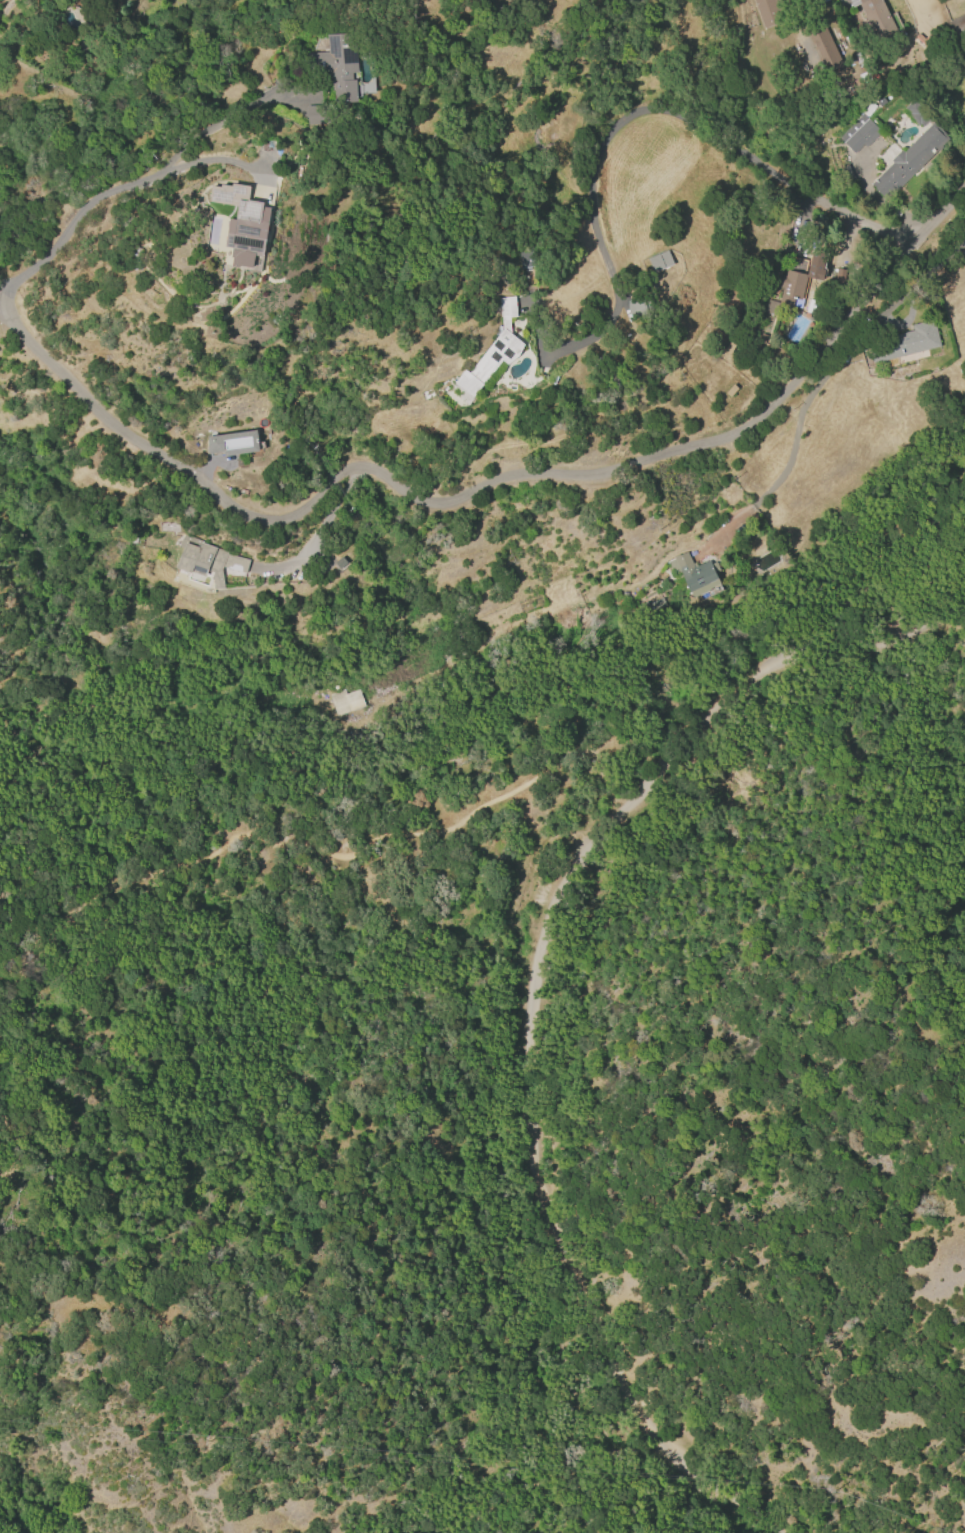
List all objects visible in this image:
building: (769, 12)
building: (876, 18)
building: (957, 27)
building: (926, 41)
building: (825, 48)
building: (333, 81)
road: (672, 110)
building: (914, 116)
building: (858, 134)
road: (209, 161)
building: (907, 162)
road: (130, 186)
building: (242, 223)
building: (527, 258)
building: (660, 261)
building: (791, 287)
building: (637, 307)
building: (771, 308)
building: (904, 342)
building: (493, 351)
road: (820, 379)
building: (233, 443)
road: (481, 488)
road: (319, 536)
building: (206, 560)
building: (694, 574)
building: (655, 605)
building: (344, 701)
road: (330, 852)
road: (532, 990)
road: (10, 1153)
road: (554, 1468)

